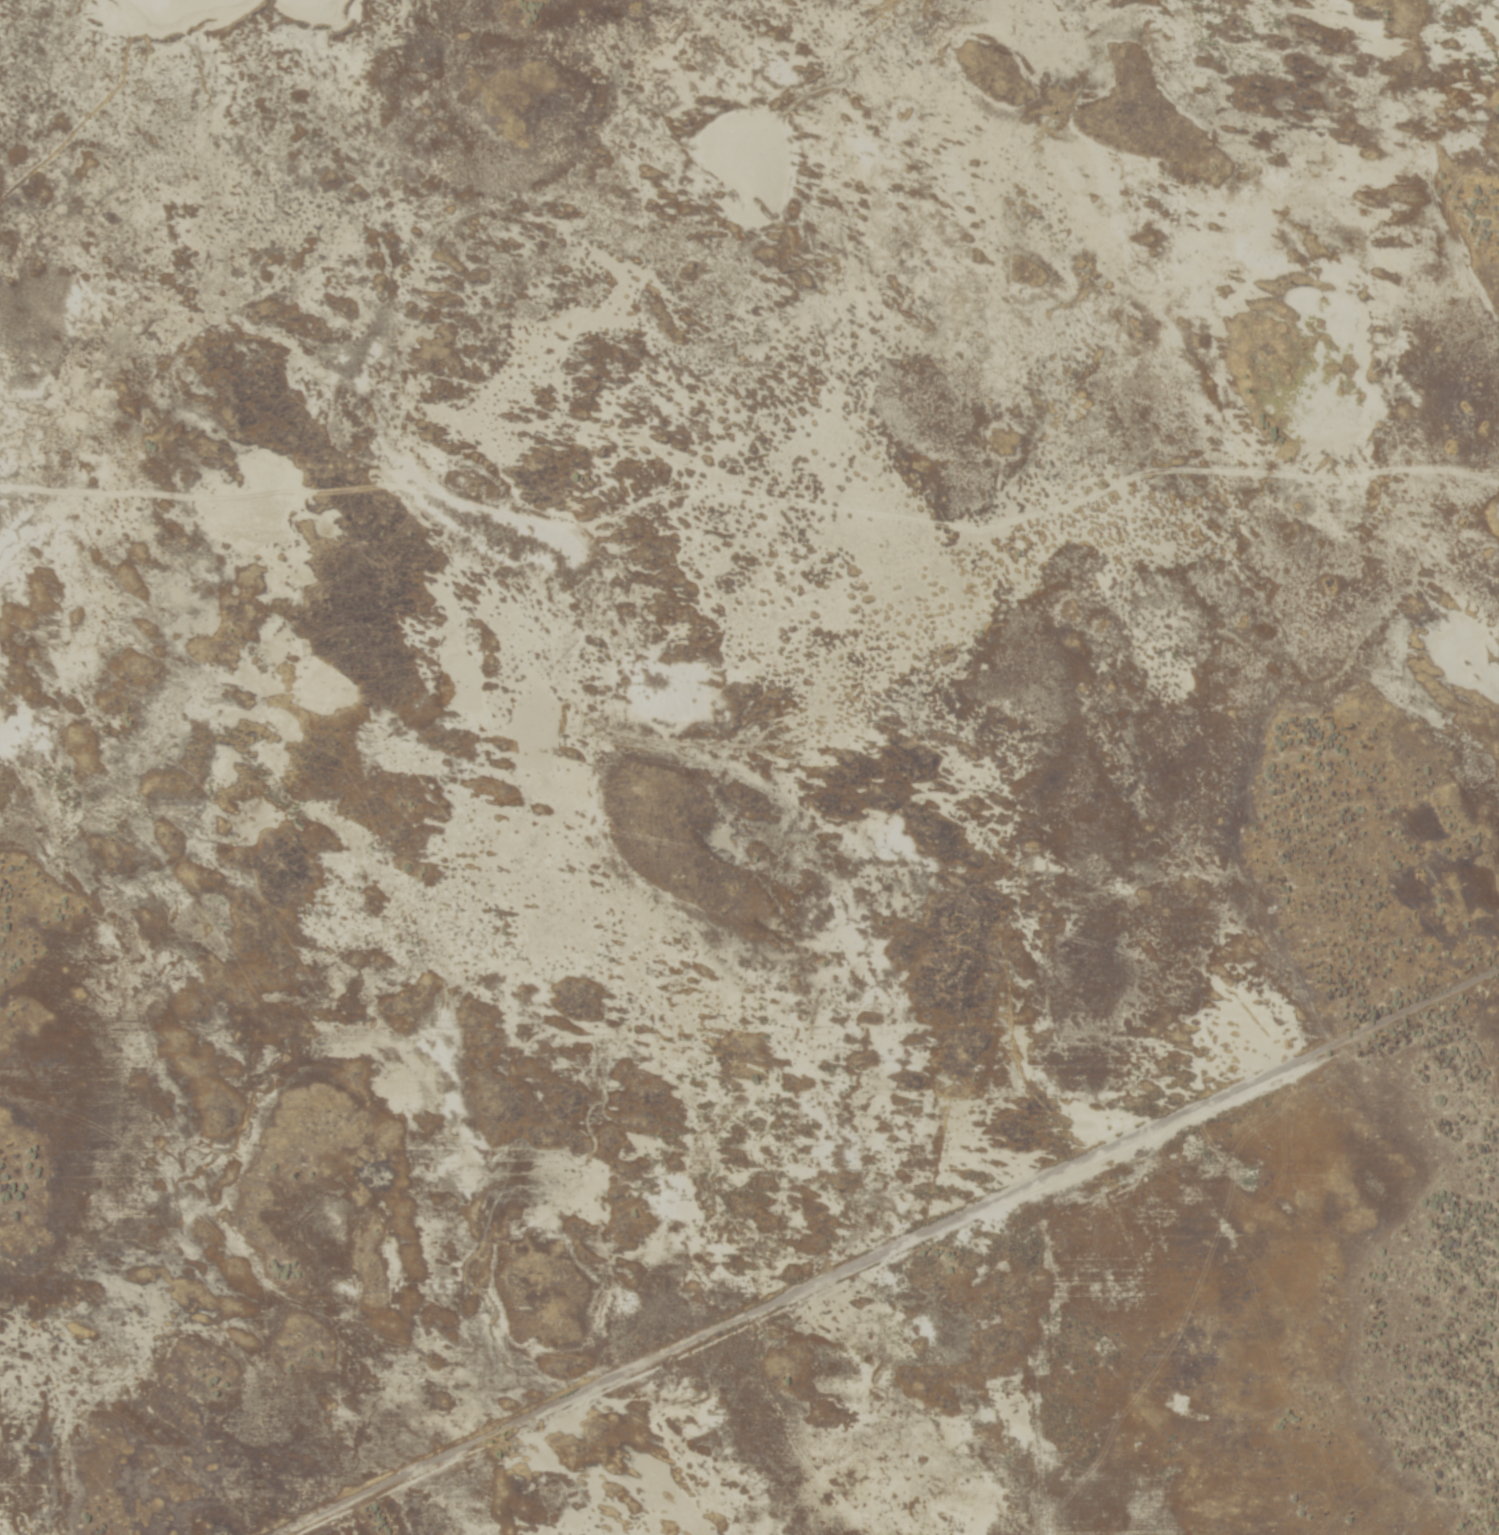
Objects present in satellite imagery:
road: (911, 1264)

